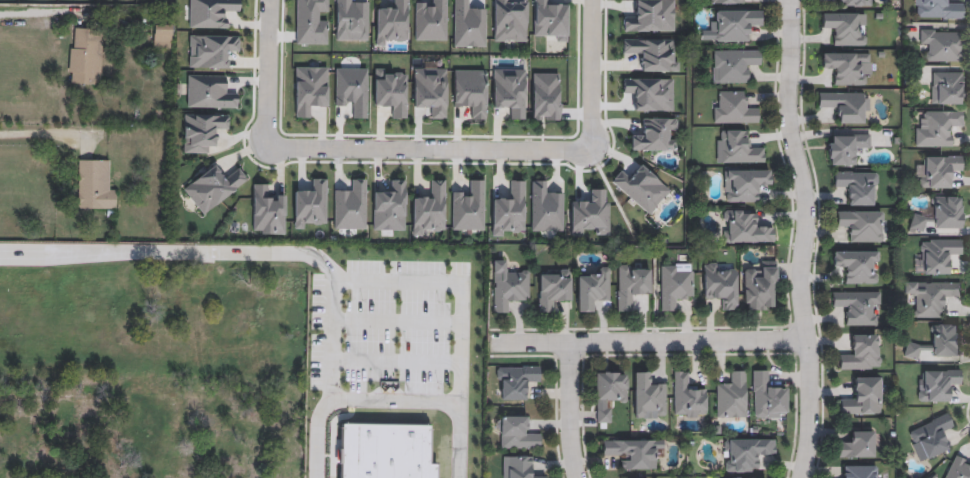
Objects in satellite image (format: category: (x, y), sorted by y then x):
building: (725, 1)
building: (855, 3)
building: (937, 10)
road: (26, 15)
building: (550, 18)
building: (510, 20)
building: (391, 23)
building: (468, 24)
building: (736, 24)
building: (844, 27)
building: (161, 36)
building: (941, 45)
building: (84, 56)
building: (733, 65)
building: (846, 67)
road: (267, 73)
road: (591, 75)
building: (946, 88)
building: (546, 96)
building: (845, 105)
building: (734, 108)
building: (936, 128)
road: (45, 132)
building: (738, 147)
road: (428, 148)
building: (845, 148)
building: (937, 170)
building: (94, 184)
building: (744, 184)
building: (857, 186)
building: (641, 188)
building: (945, 212)
building: (917, 223)
building: (860, 225)
building: (745, 227)
road: (802, 238)
road: (234, 253)
building: (937, 256)
building: (856, 265)
building: (205, 279)
road: (446, 282)
building: (675, 283)
building: (631, 284)
building: (720, 284)
building: (508, 286)
building: (760, 287)
building: (553, 288)
building: (593, 288)
building: (931, 296)
building: (176, 300)
building: (857, 307)
road: (397, 321)
road: (650, 341)
building: (938, 343)
building: (862, 352)
parking lot: (394, 361)
road: (396, 362)
building: (515, 381)
building: (936, 385)
building: (608, 392)
building: (649, 395)
building: (731, 395)
building: (767, 396)
building: (862, 396)
building: (687, 397)
road: (387, 401)
road: (569, 410)
building: (517, 433)
building: (930, 438)
building: (149, 440)
building: (857, 444)
building: (385, 452)
building: (633, 452)
building: (745, 453)
building: (519, 467)
building: (958, 468)
building: (858, 471)

